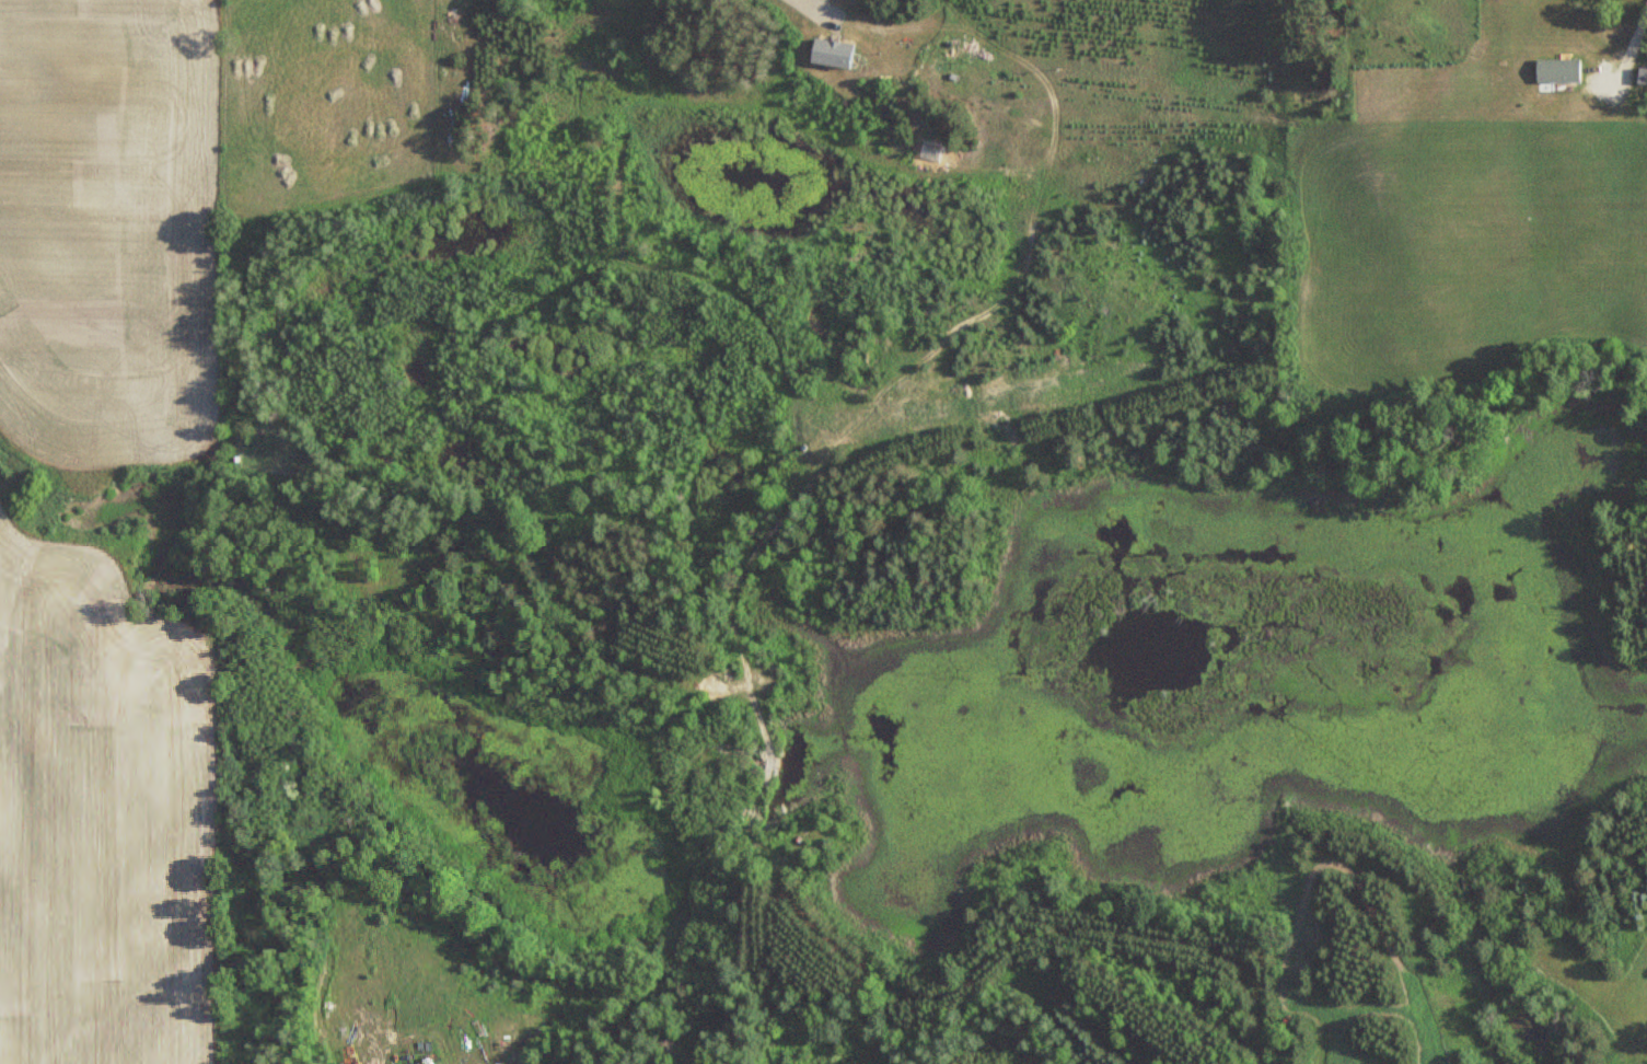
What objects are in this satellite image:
building: (839, 31)
building: (1557, 70)
building: (1642, 76)

